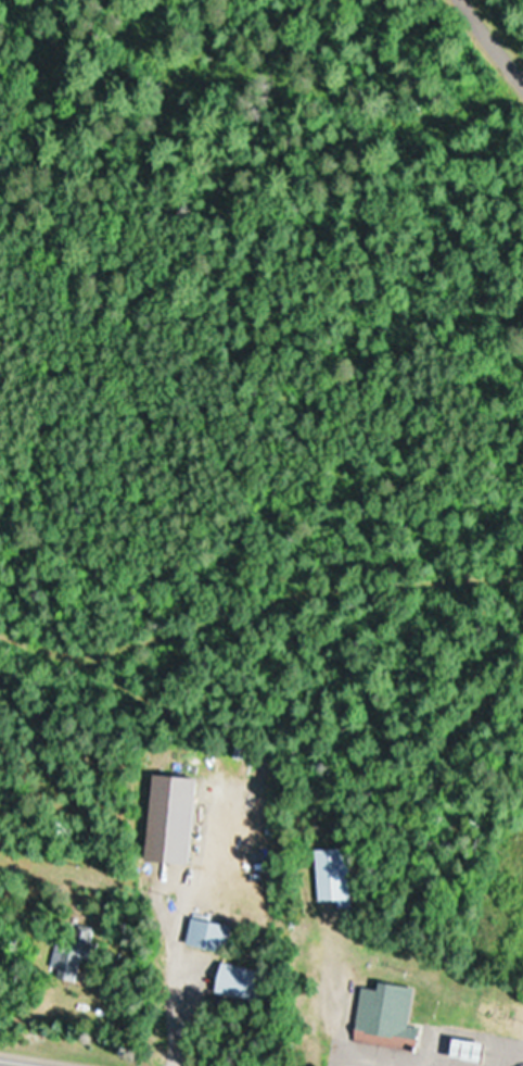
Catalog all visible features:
road: (490, 40)
building: (330, 878)
building: (207, 936)
building: (65, 961)
building: (234, 981)
building: (382, 1021)
building: (463, 1050)

